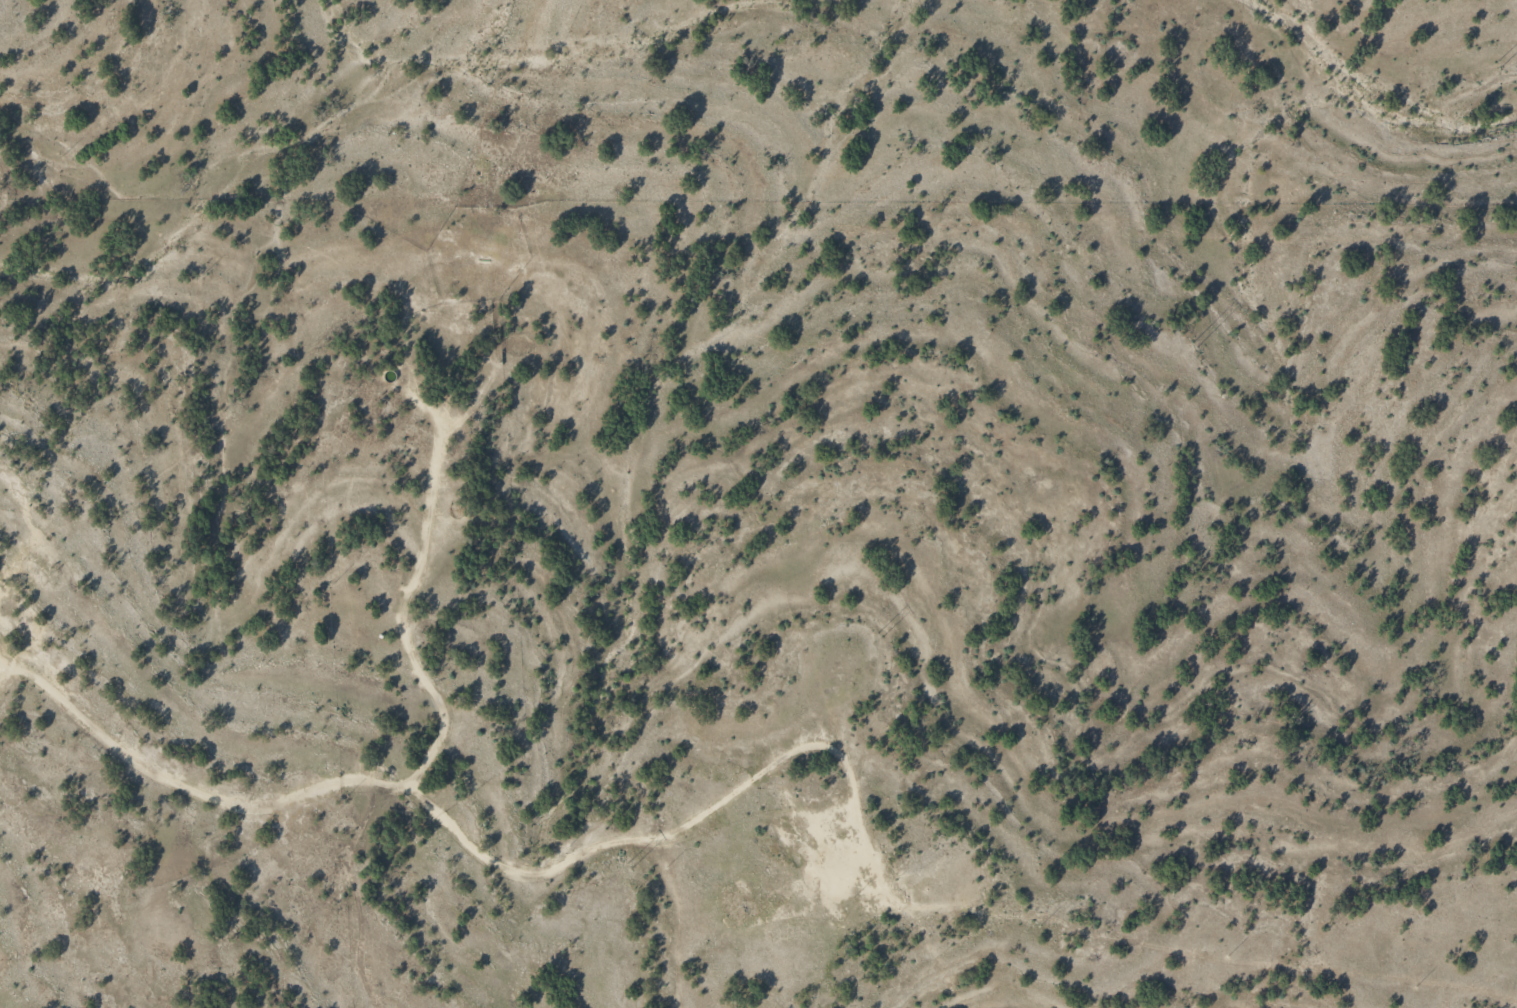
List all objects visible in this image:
power tower: (1495, 67)
power tower: (1192, 347)
power tower: (879, 637)
power tower: (630, 867)

